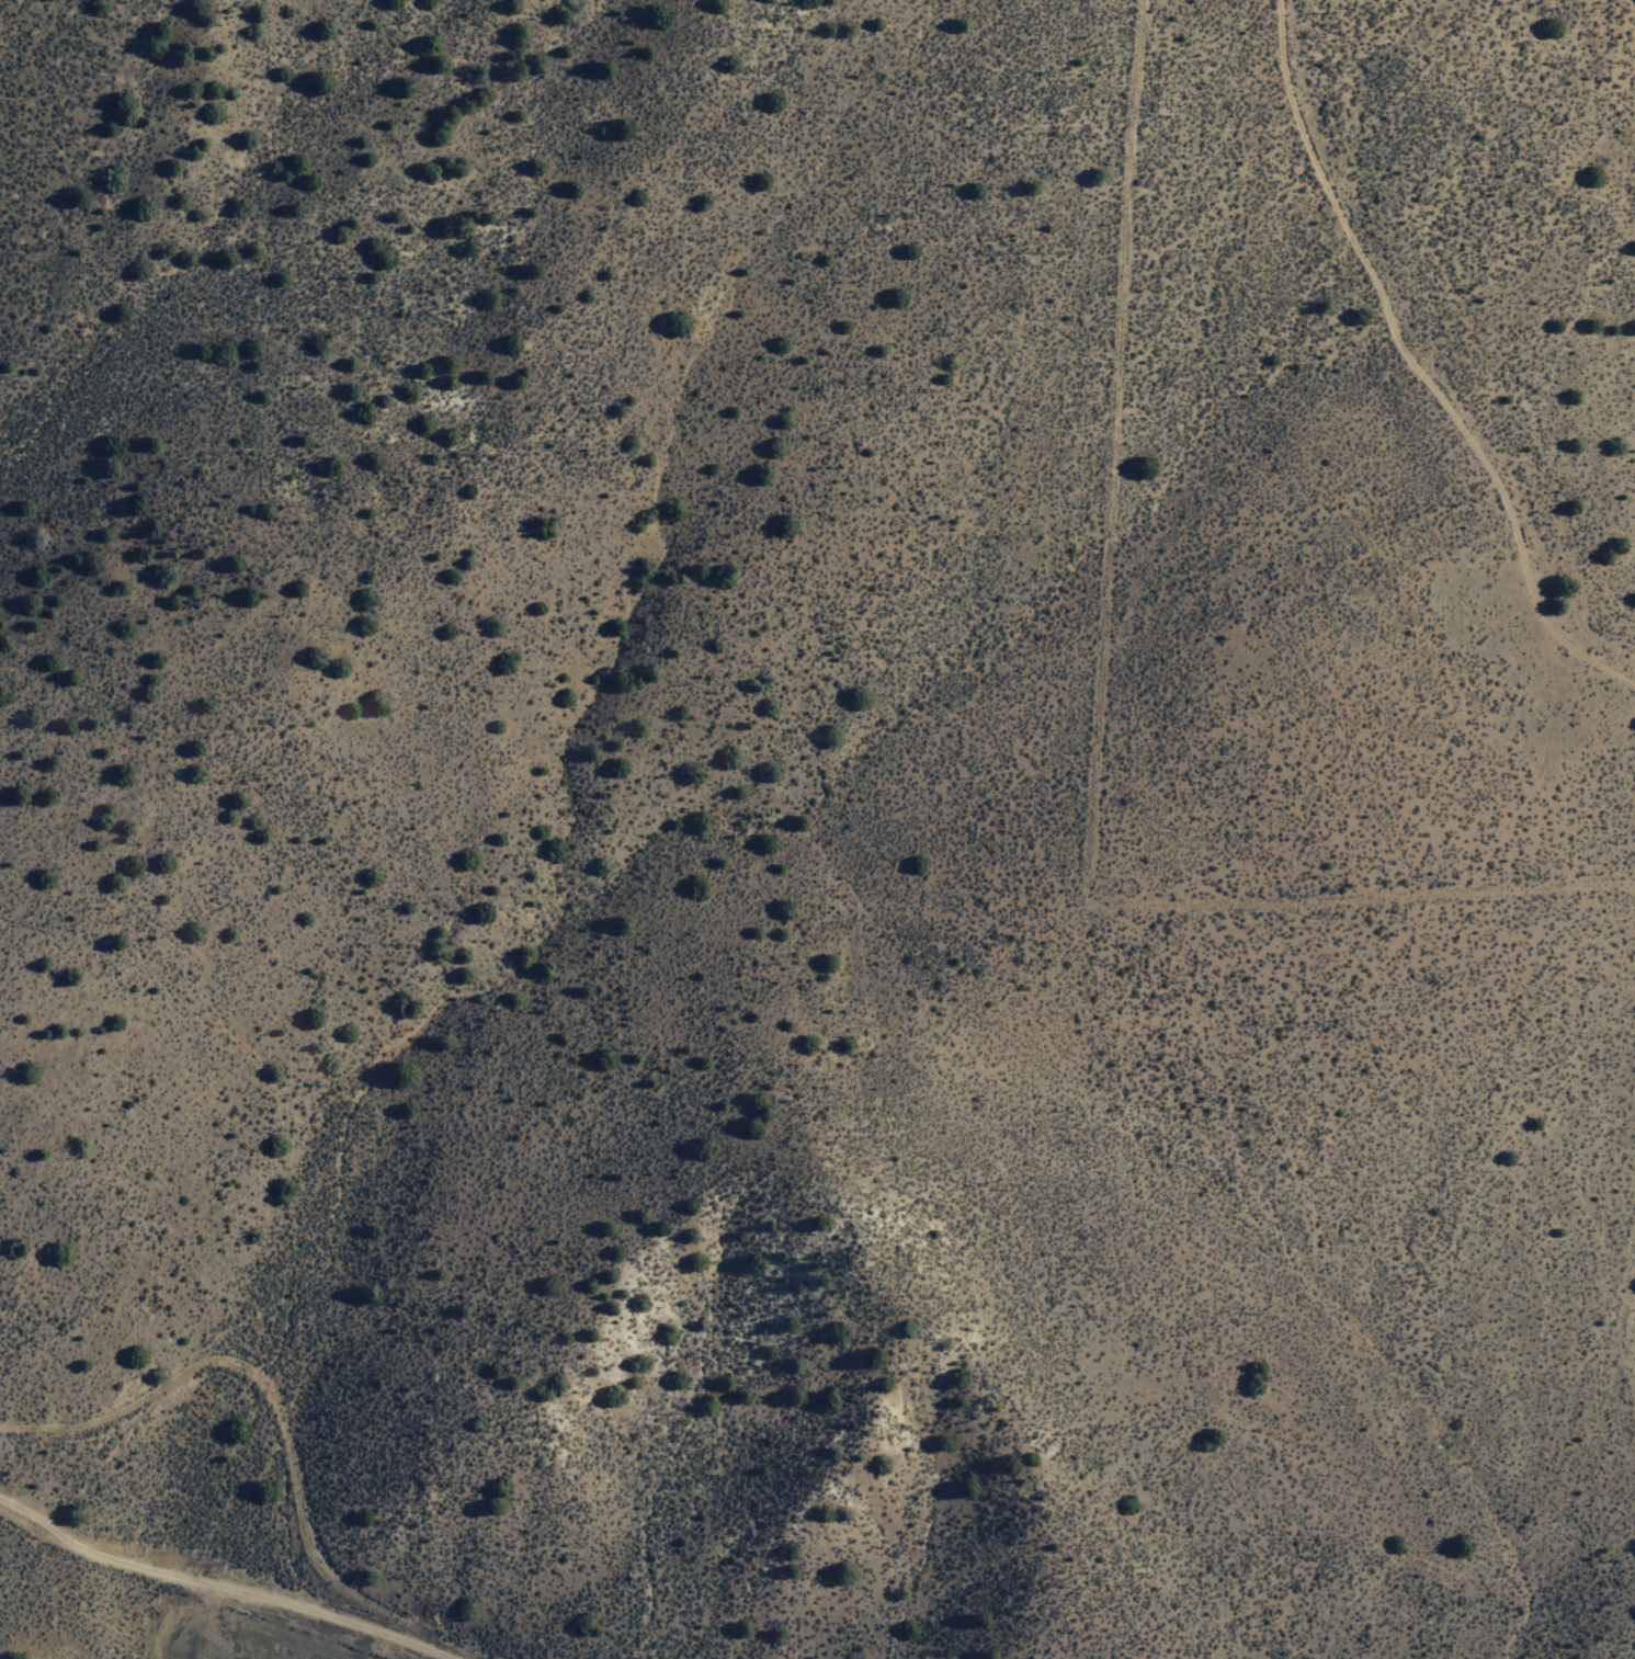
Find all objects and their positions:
road: (1408, 363)
road: (384, 1546)
road: (1557, 1635)

